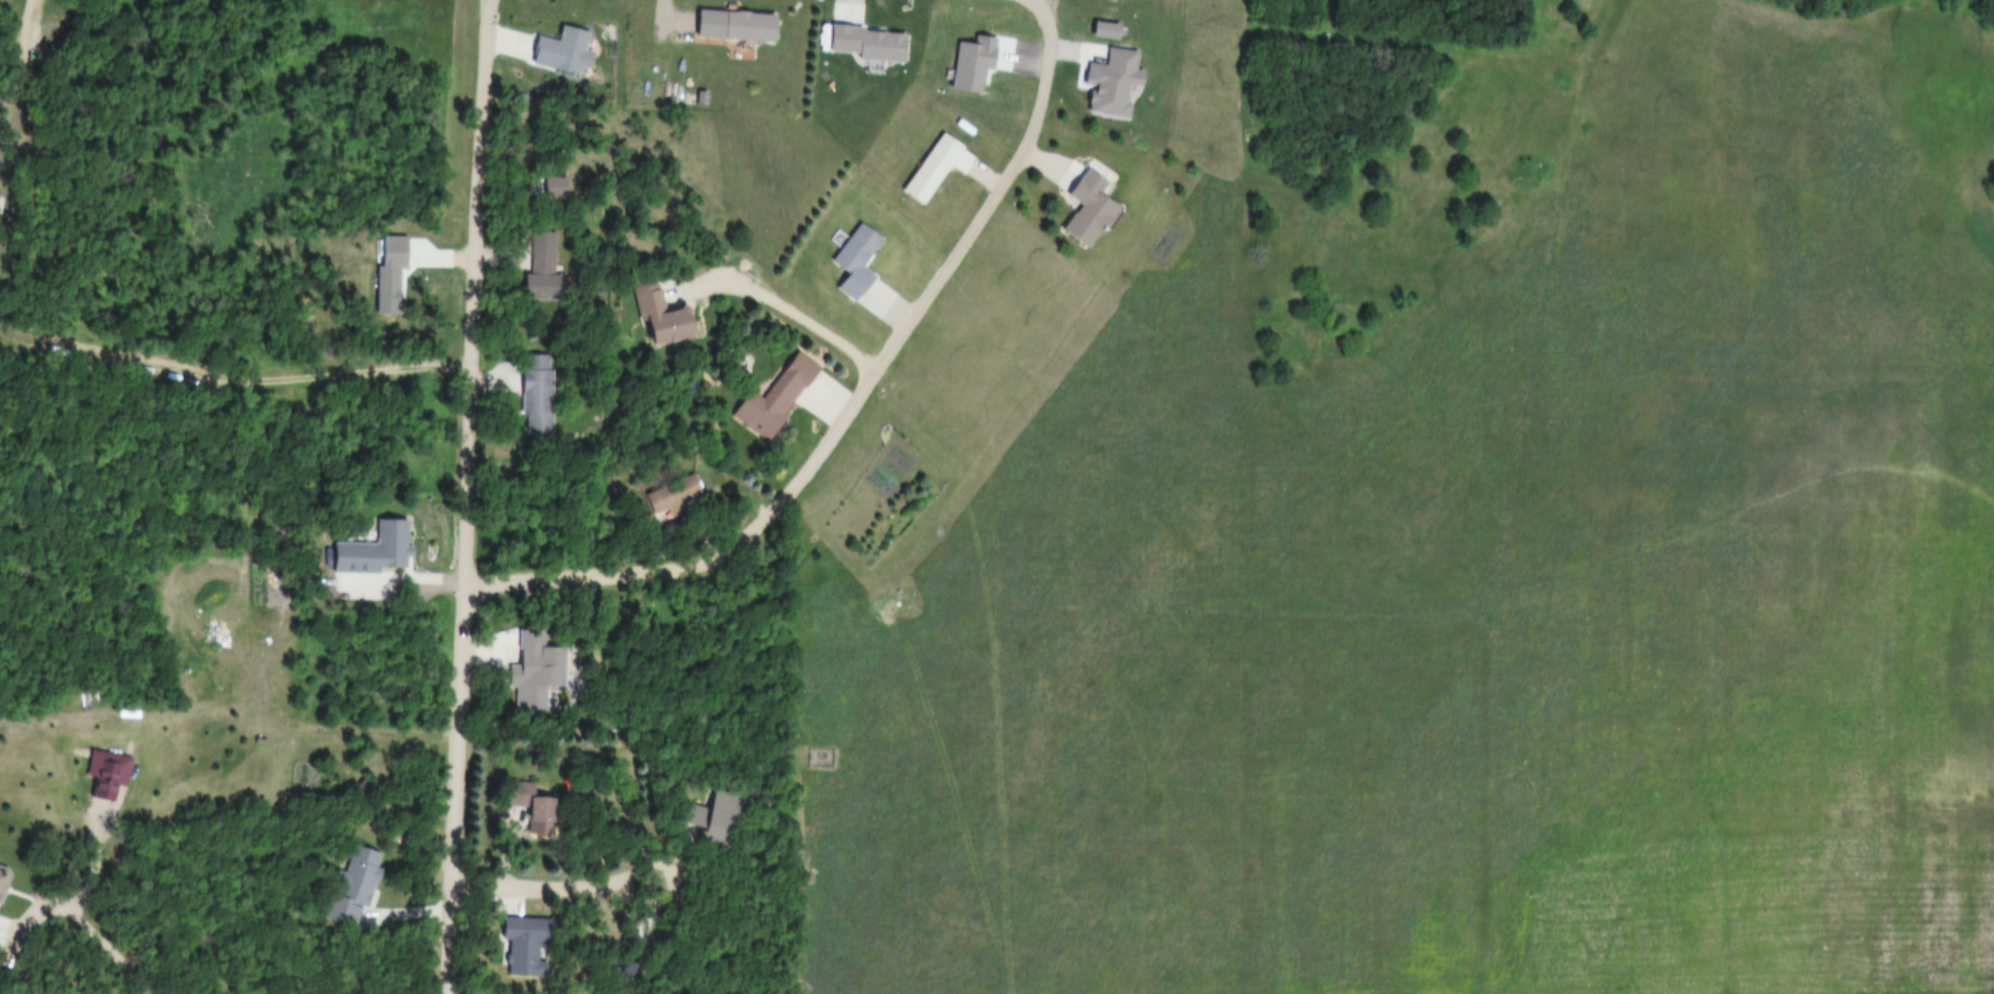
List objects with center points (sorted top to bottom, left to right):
road: (27, 17)
building: (724, 21)
building: (553, 48)
building: (1100, 78)
building: (692, 95)
building: (921, 165)
building: (546, 186)
building: (1082, 203)
building: (841, 257)
building: (858, 263)
building: (532, 268)
road: (775, 306)
building: (645, 309)
building: (527, 391)
building: (764, 396)
road: (855, 399)
building: (662, 490)
building: (675, 495)
road: (470, 497)
building: (366, 546)
building: (521, 676)
building: (1282, 700)
building: (1145, 748)
building: (100, 771)
building: (519, 800)
building: (535, 810)
building: (701, 810)
building: (722, 821)
building: (2, 876)
road: (569, 880)
building: (344, 881)
building: (514, 940)

